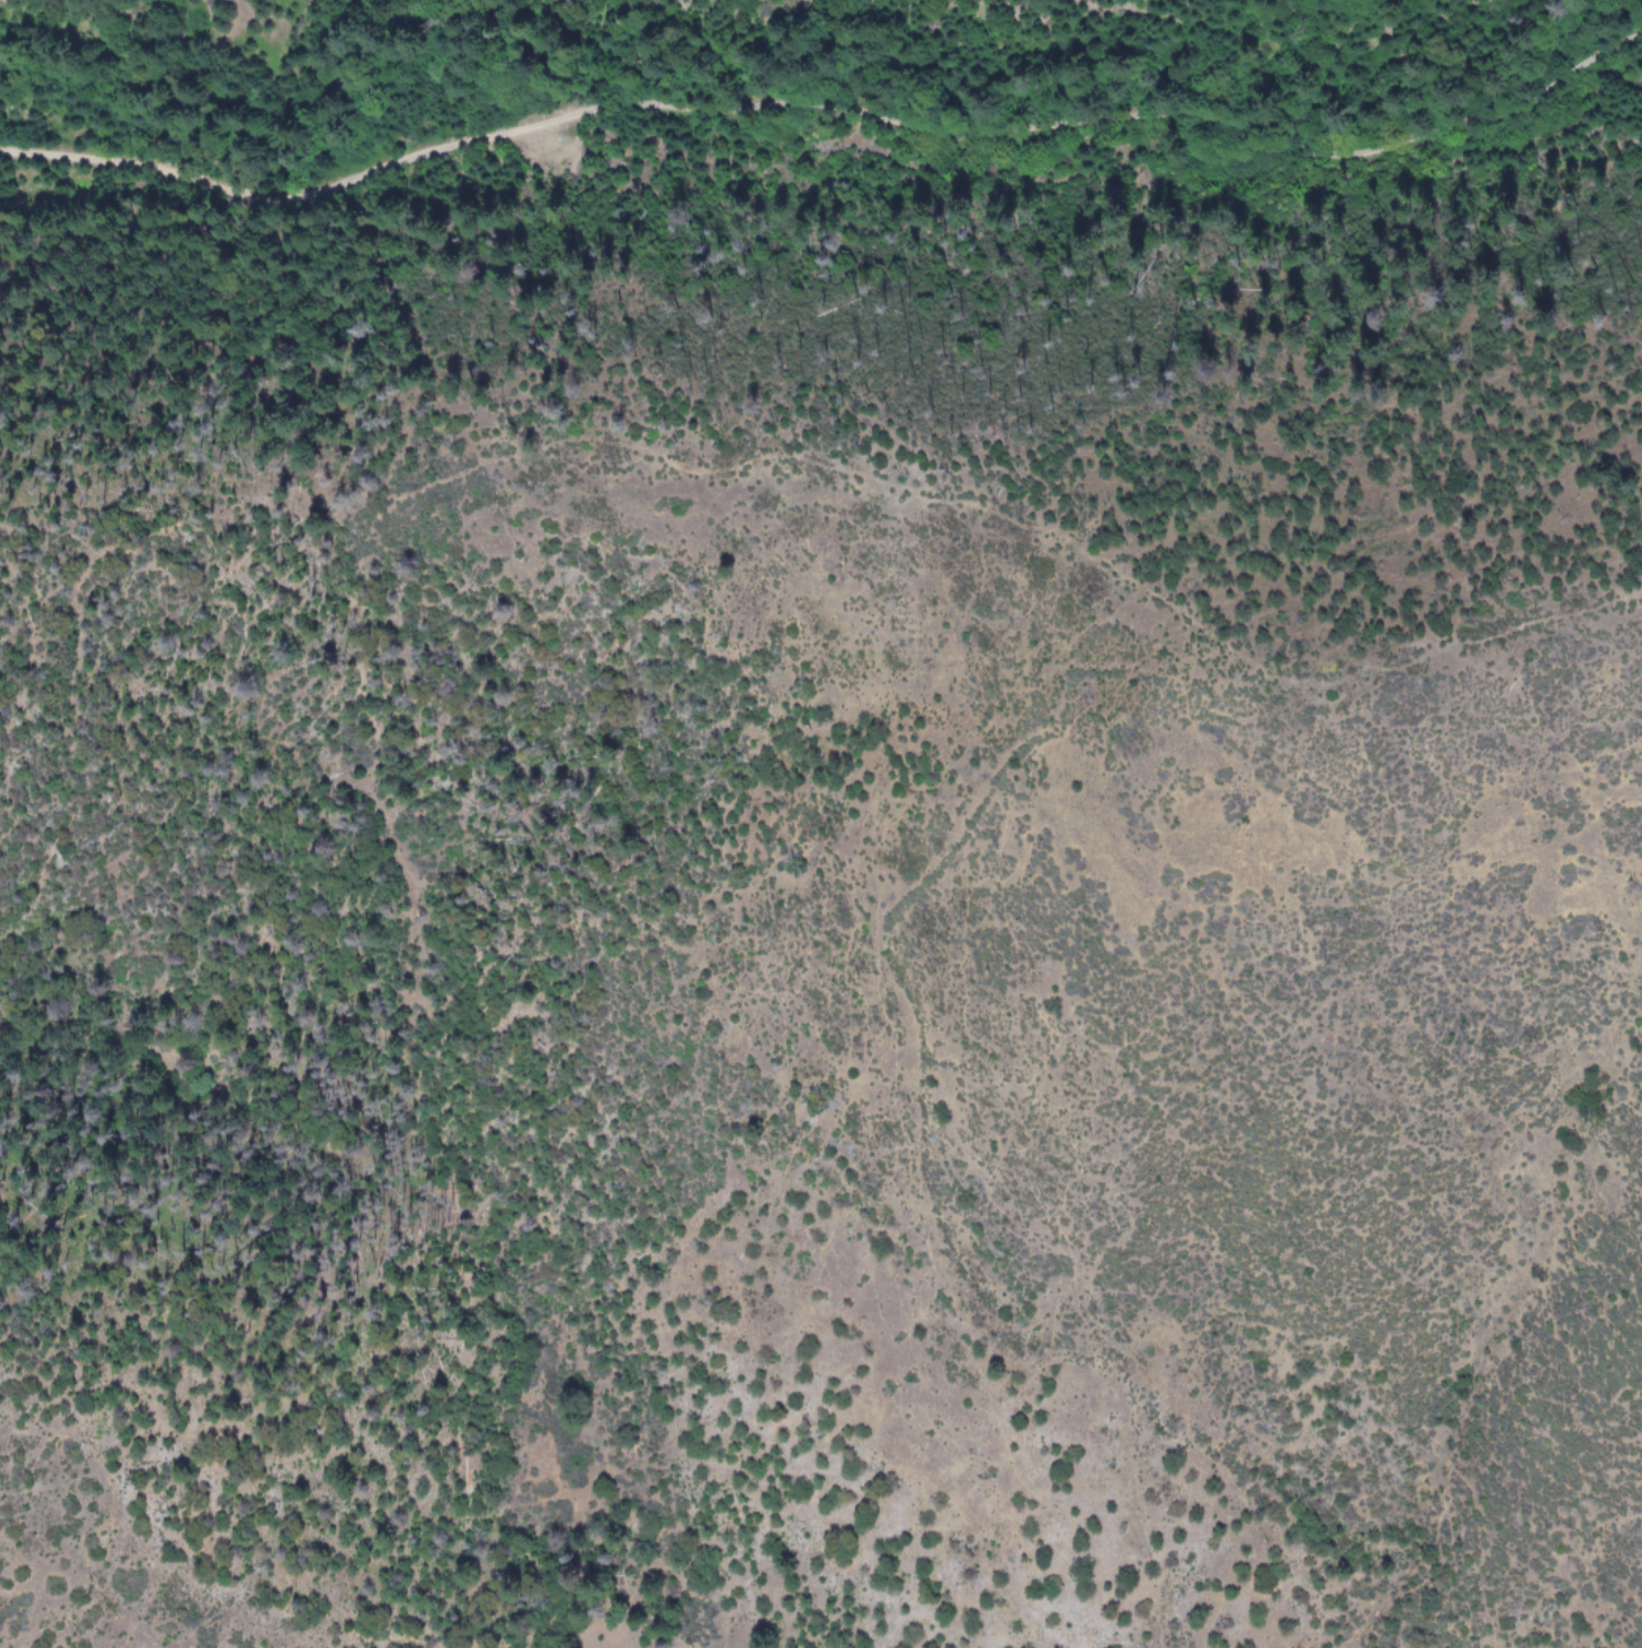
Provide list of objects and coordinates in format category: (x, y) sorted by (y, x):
road: (825, 114)

